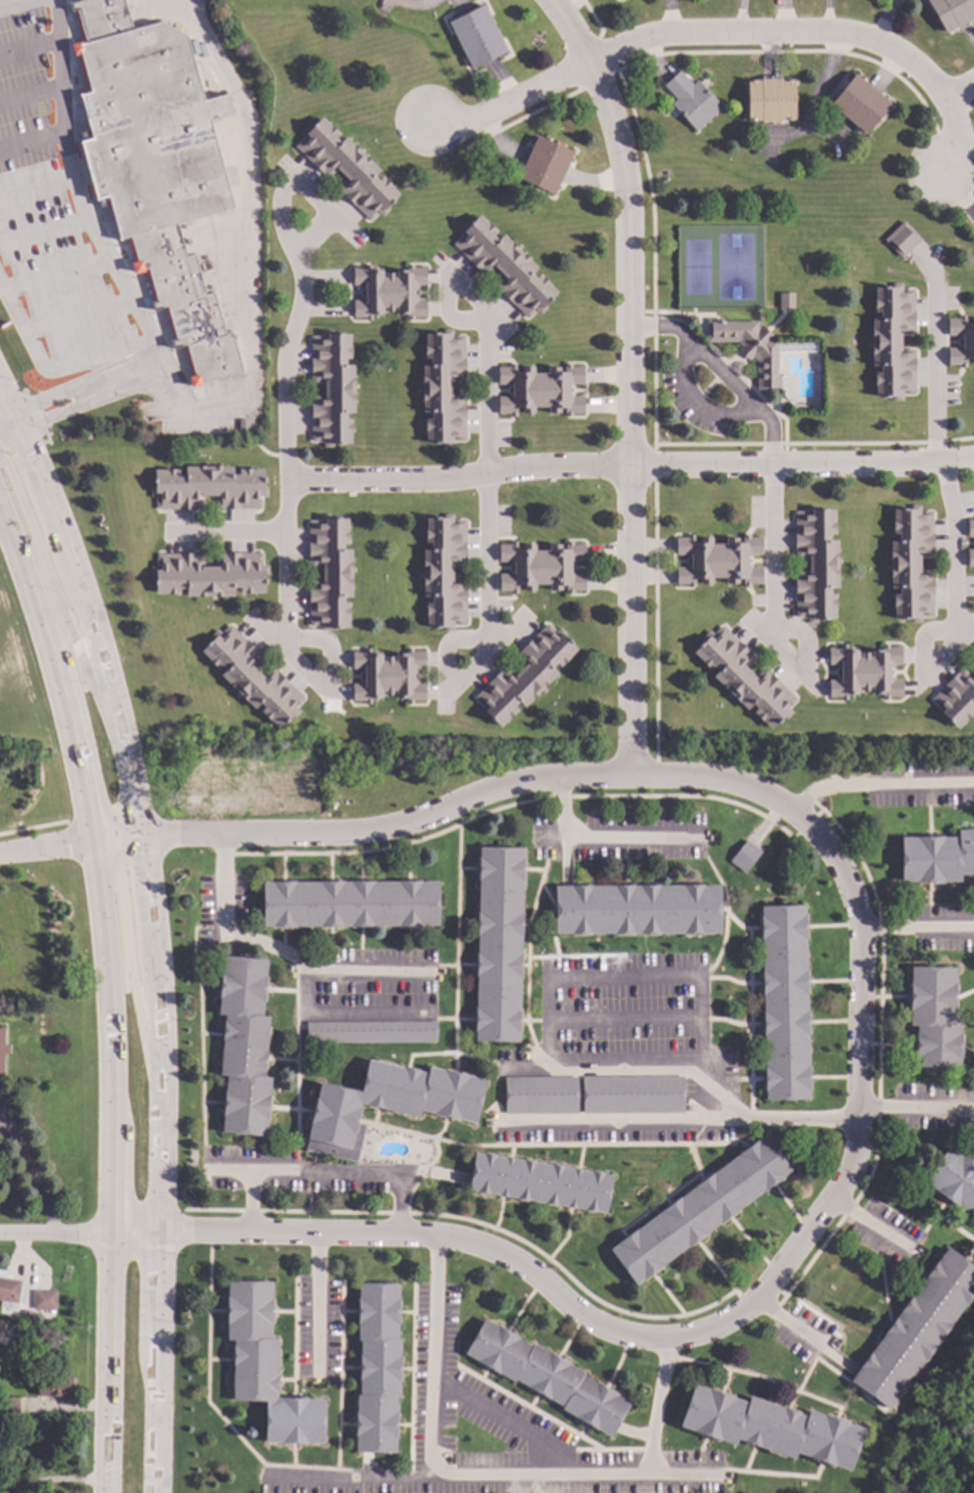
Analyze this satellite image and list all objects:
road: (411, 4)
building: (952, 12)
road: (741, 16)
road: (592, 19)
road: (885, 22)
road: (790, 31)
building: (476, 36)
road: (812, 53)
road: (606, 56)
road: (598, 82)
road: (815, 98)
building: (769, 99)
building: (691, 100)
building: (858, 103)
road: (509, 106)
road: (971, 106)
road: (522, 119)
road: (949, 133)
building: (155, 164)
building: (544, 164)
building: (346, 168)
road: (318, 196)
road: (958, 200)
parking lot: (49, 216)
road: (313, 232)
building: (901, 239)
road: (653, 255)
road: (245, 260)
road: (110, 265)
building: (504, 266)
road: (324, 278)
building: (388, 292)
building: (786, 300)
road: (321, 312)
building: (892, 341)
building: (967, 341)
building: (750, 348)
road: (52, 366)
road: (725, 370)
road: (935, 376)
road: (629, 379)
building: (443, 388)
building: (331, 389)
building: (540, 389)
road: (696, 405)
road: (283, 407)
road: (4, 411)
road: (488, 411)
road: (4, 419)
traffic signals: (9, 420)
road: (4, 421)
building: (242, 425)
road: (814, 443)
building: (919, 449)
building: (791, 450)
building: (518, 453)
road: (629, 462)
road: (654, 462)
building: (551, 479)
building: (207, 487)
building: (351, 493)
building: (970, 527)
road: (231, 533)
building: (970, 557)
building: (717, 560)
building: (815, 564)
building: (911, 564)
building: (540, 567)
building: (329, 572)
building: (443, 572)
building: (208, 574)
road: (57, 596)
road: (957, 619)
road: (655, 621)
road: (772, 622)
road: (86, 623)
building: (973, 656)
building: (864, 671)
road: (54, 674)
building: (524, 674)
building: (387, 675)
building: (252, 677)
building: (744, 677)
road: (452, 683)
road: (326, 693)
building: (955, 698)
road: (878, 785)
road: (43, 825)
road: (112, 836)
road: (599, 840)
road: (44, 847)
building: (742, 856)
building: (937, 857)
building: (349, 904)
building: (636, 909)
road: (913, 930)
building: (498, 944)
road: (277, 950)
road: (130, 954)
building: (783, 1002)
road: (549, 1014)
road: (345, 1016)
building: (934, 1016)
road: (625, 1018)
building: (371, 1031)
building: (243, 1045)
building: (2, 1049)
road: (856, 1067)
building: (540, 1095)
building: (631, 1095)
building: (386, 1104)
road: (915, 1107)
road: (679, 1116)
road: (155, 1163)
road: (107, 1165)
road: (323, 1172)
road: (31, 1173)
building: (953, 1179)
building: (539, 1182)
building: (699, 1209)
road: (871, 1226)
road: (54, 1237)
building: (11, 1291)
building: (43, 1299)
road: (317, 1300)
building: (915, 1328)
road: (801, 1333)
building: (264, 1367)
building: (376, 1368)
building: (546, 1376)
building: (52, 1385)
building: (13, 1404)
road: (502, 1421)
building: (770, 1427)
park: (936, 1436)
road: (352, 1477)
road: (492, 1478)
road: (684, 1478)

